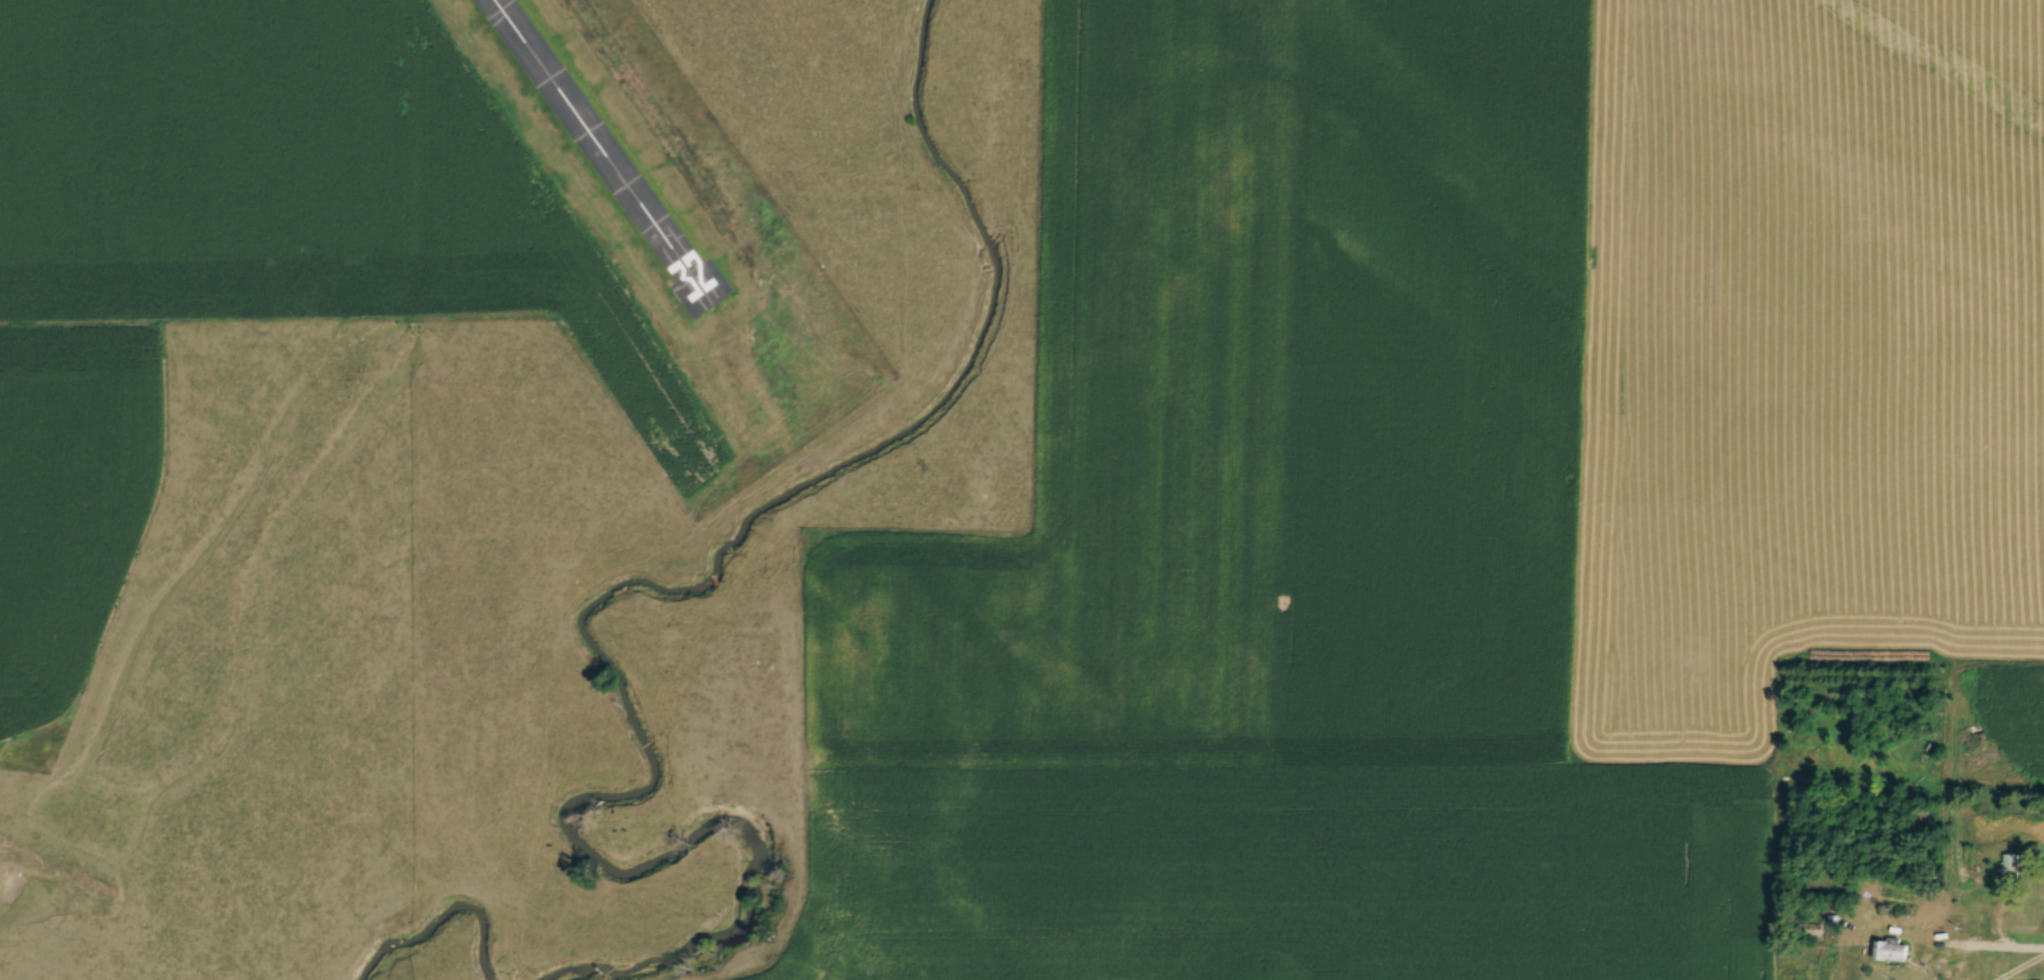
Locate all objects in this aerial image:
airport runway: (605, 151)
crop: (274, 176)
airport: (658, 237)
river: (586, 596)
river: (431, 909)
building: (1890, 949)
road: (1994, 949)

